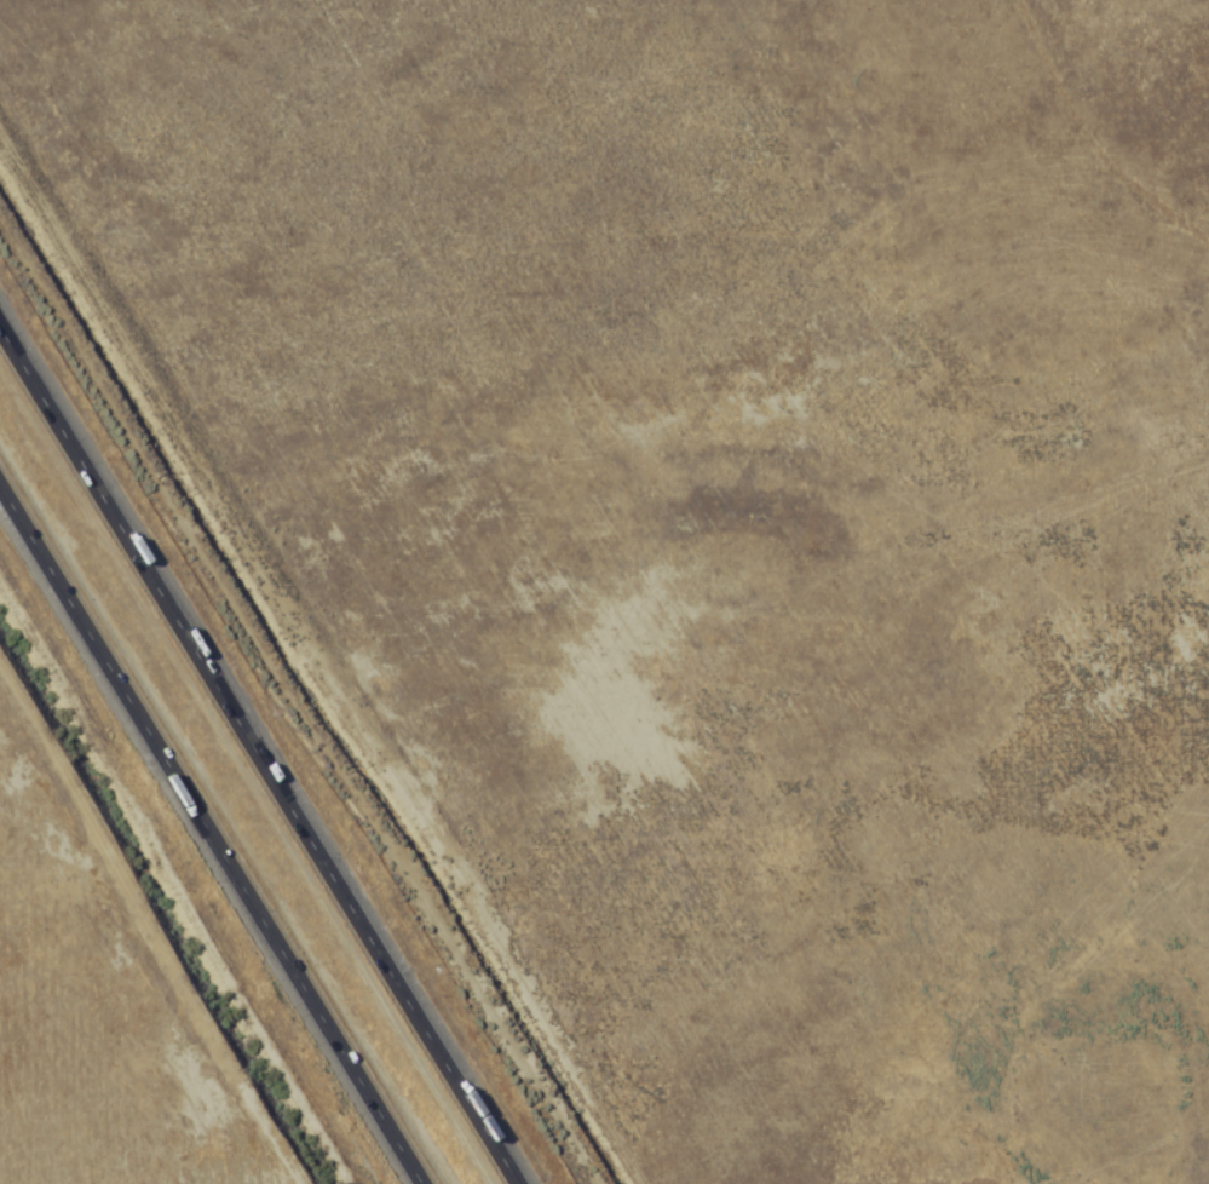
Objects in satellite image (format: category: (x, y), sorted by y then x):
road: (261, 749)
road: (212, 832)

